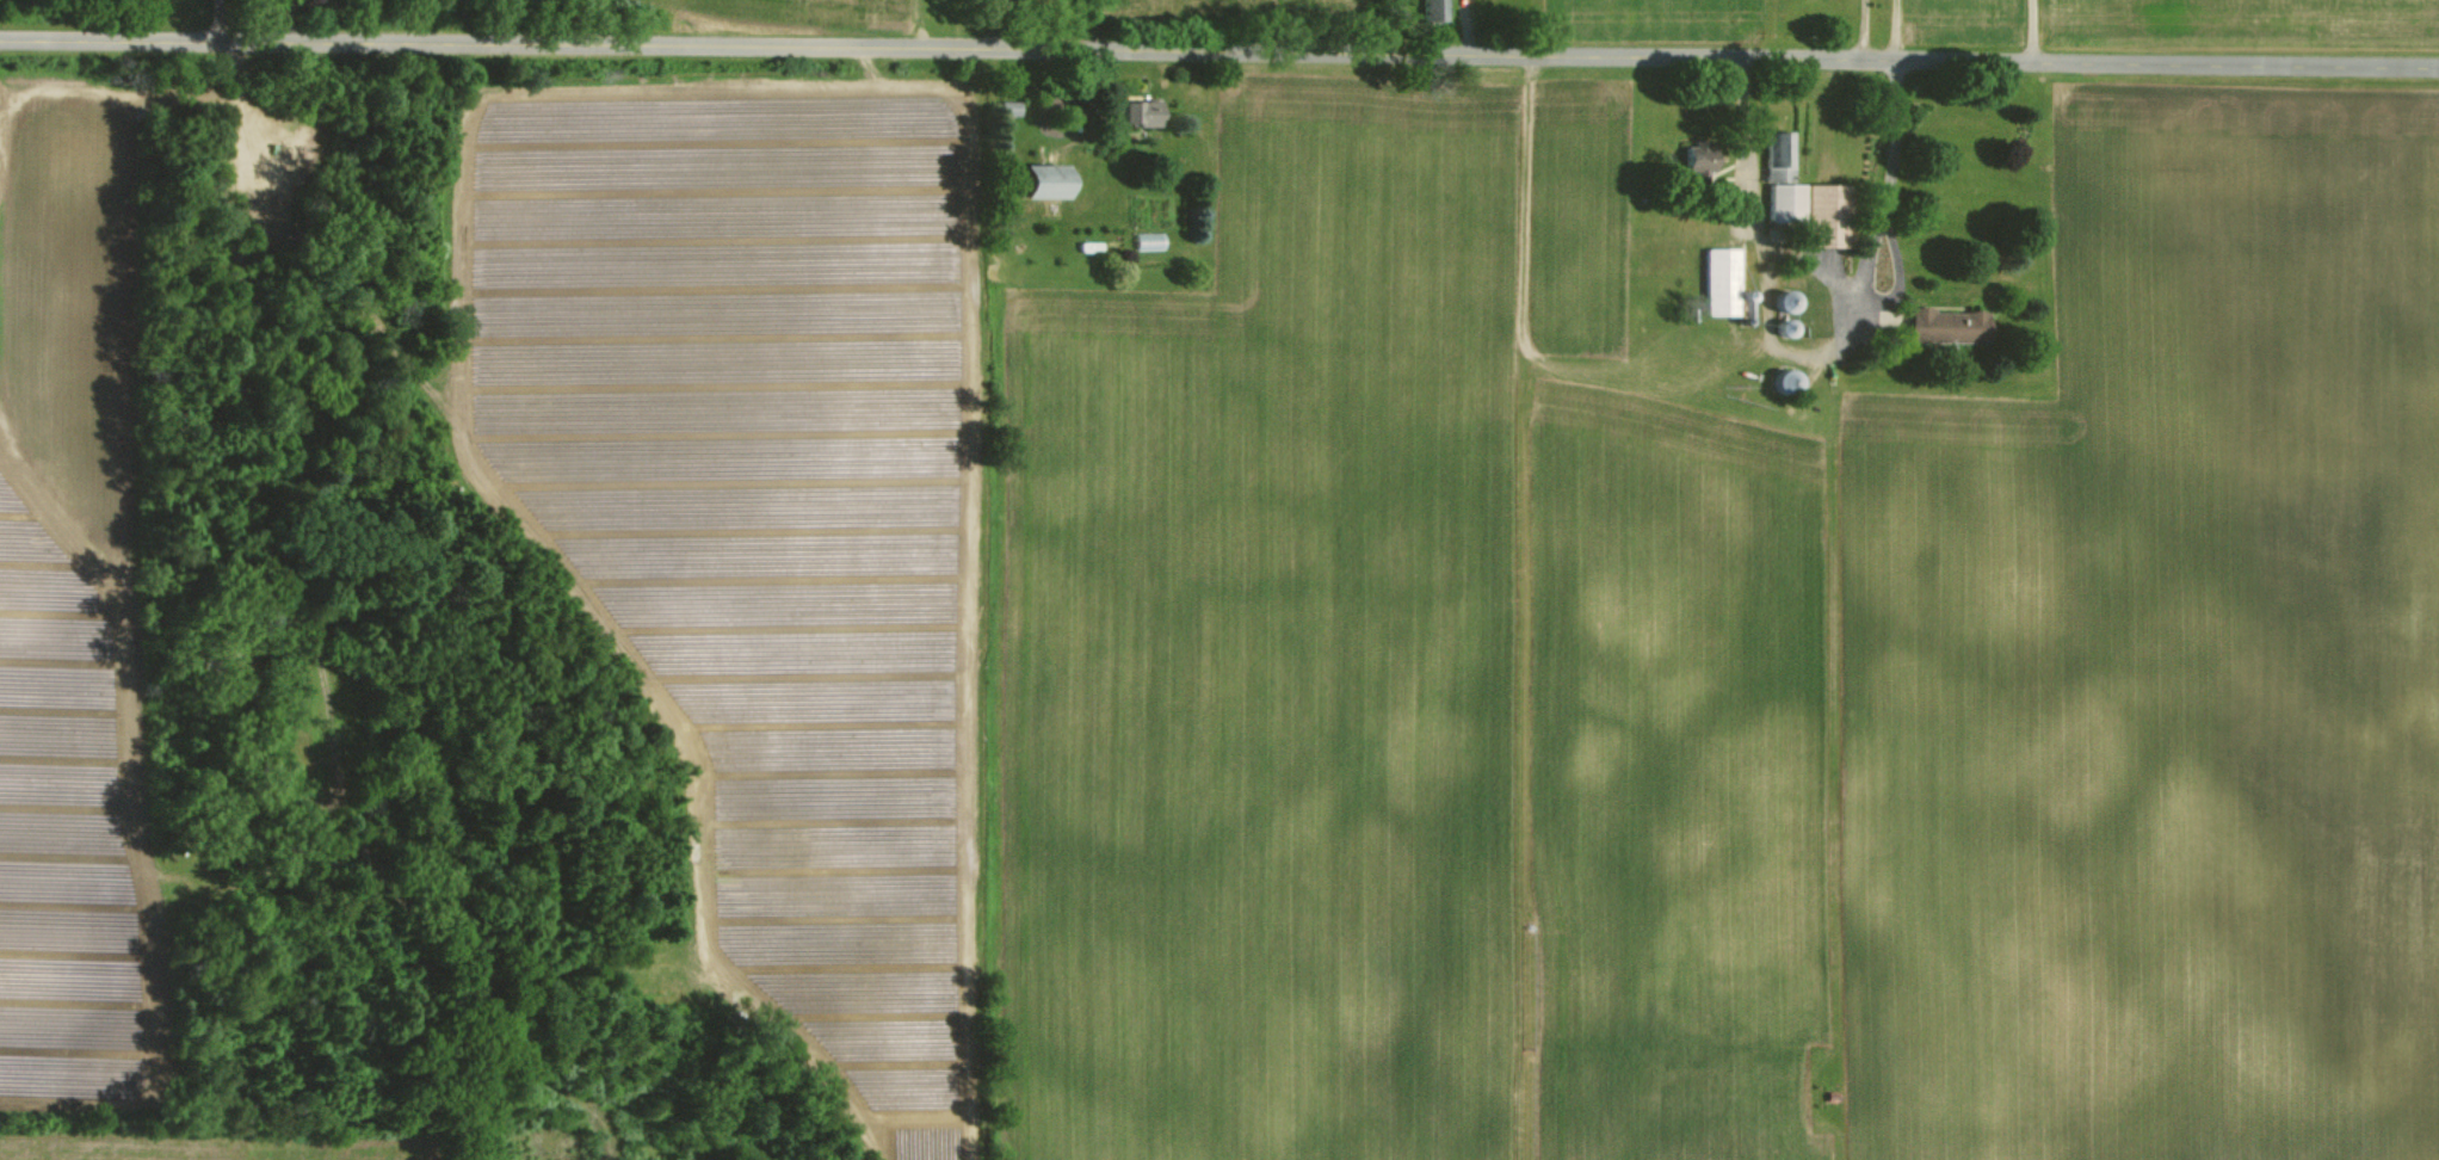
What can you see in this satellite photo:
building: (1430, 10)
road: (217, 17)
road: (286, 17)
road: (1860, 27)
road: (1891, 27)
road: (2031, 29)
road: (1219, 47)
building: (1135, 111)
building: (1693, 160)
building: (1037, 179)
building: (1780, 184)
building: (1822, 216)
road: (1823, 273)
building: (1718, 280)
building: (1944, 325)
road: (1782, 351)
road: (344, 588)

